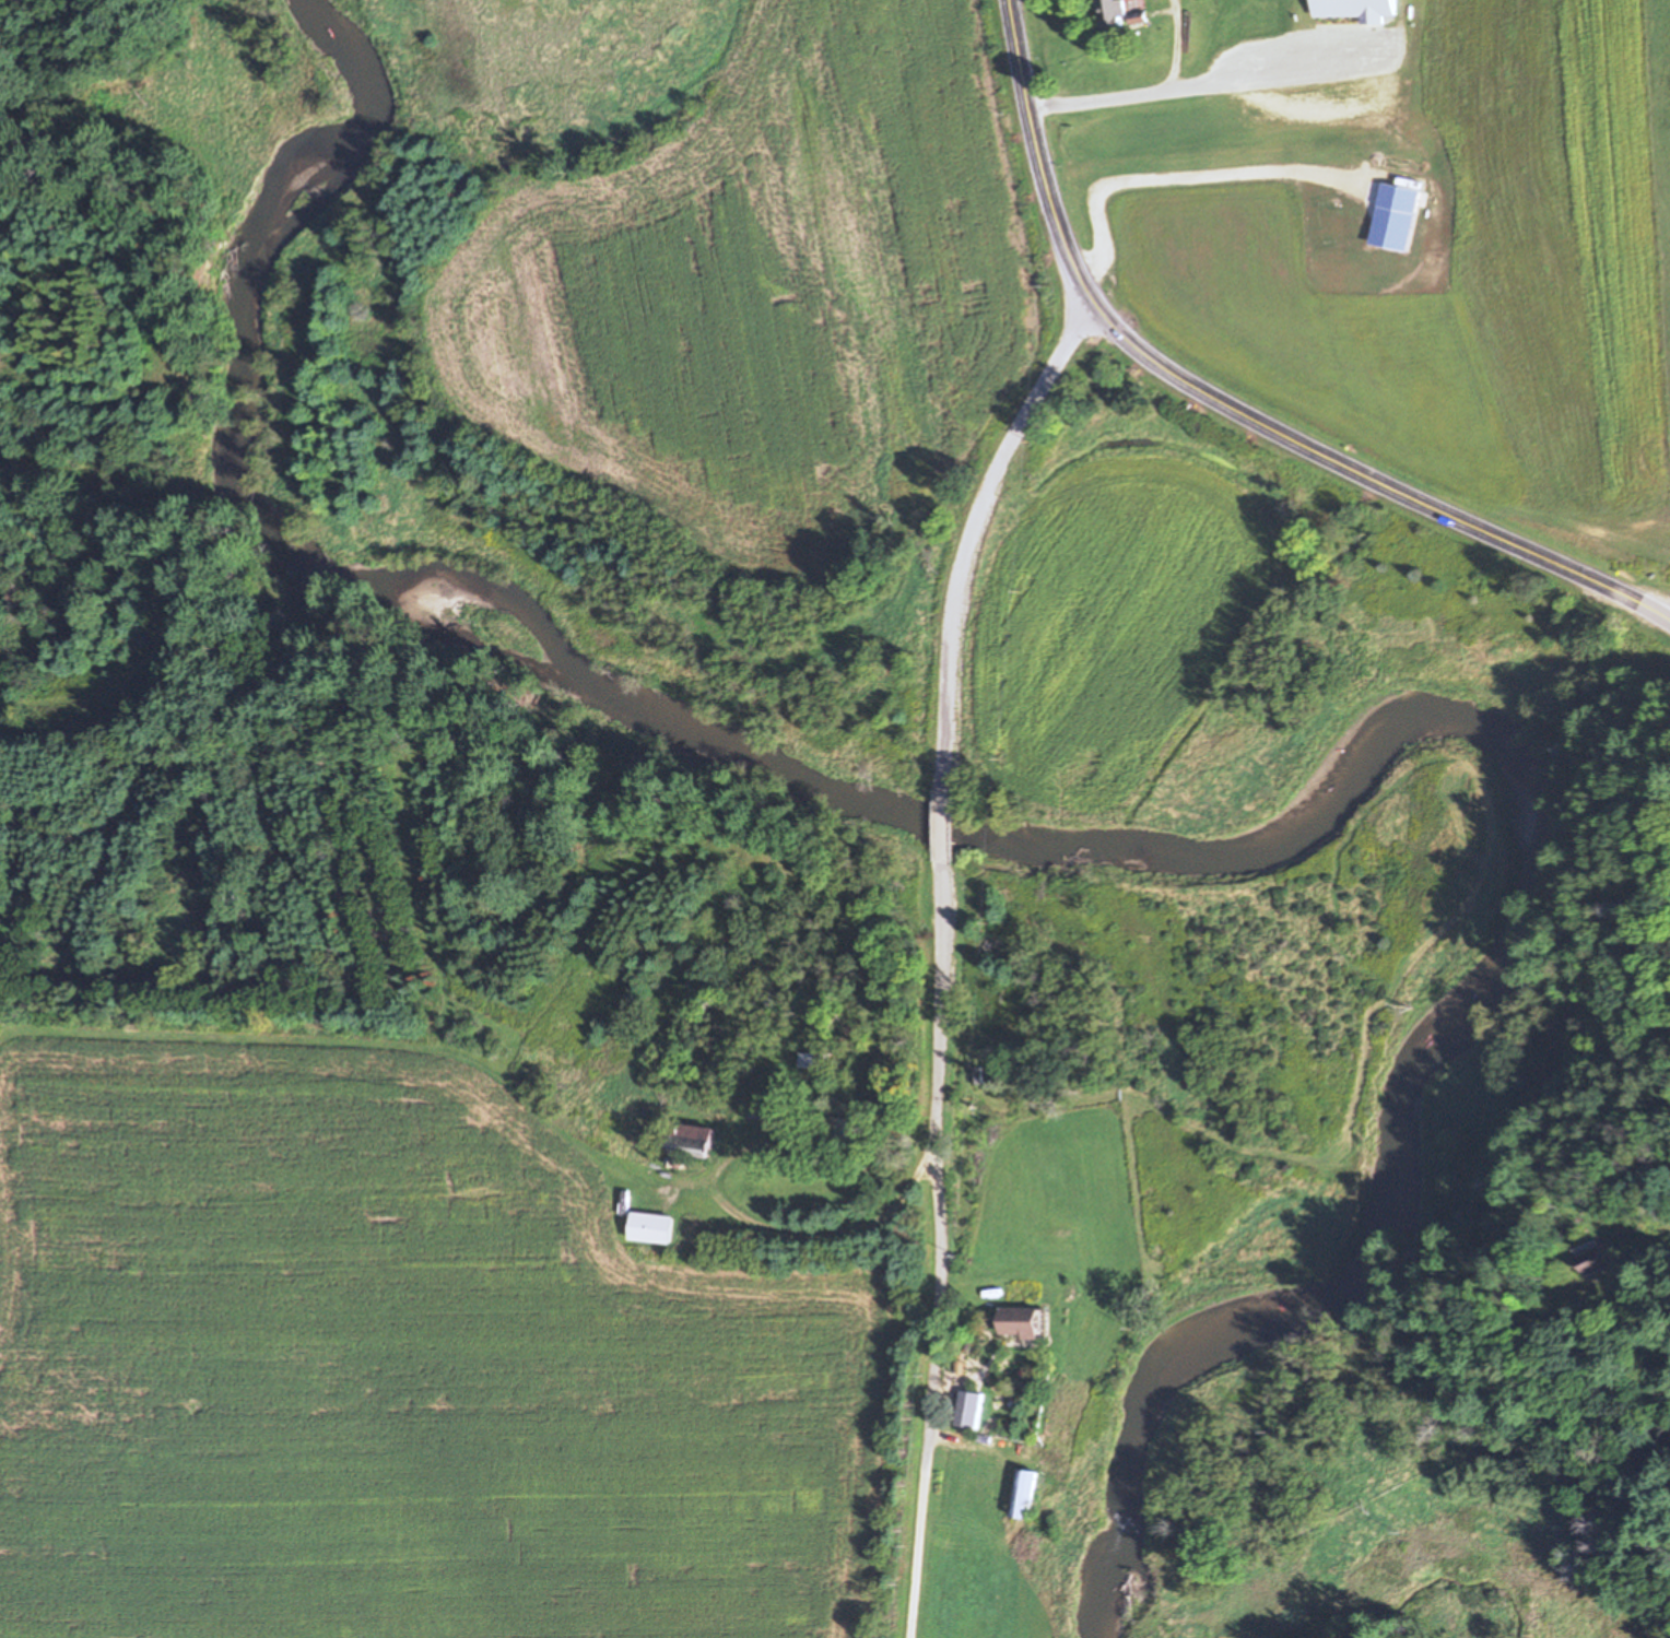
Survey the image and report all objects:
building: (1357, 10)
building: (1114, 16)
road: (1176, 43)
road: (1211, 79)
road: (1226, 404)
road: (972, 532)
road: (1666, 620)
road: (945, 827)
river: (1118, 851)
building: (814, 1062)
building: (849, 1129)
building: (693, 1141)
road: (838, 1224)
building: (654, 1228)
road: (941, 1250)
building: (1597, 1259)
building: (1021, 1323)
building: (969, 1411)
building: (968, 1464)
building: (1025, 1494)

